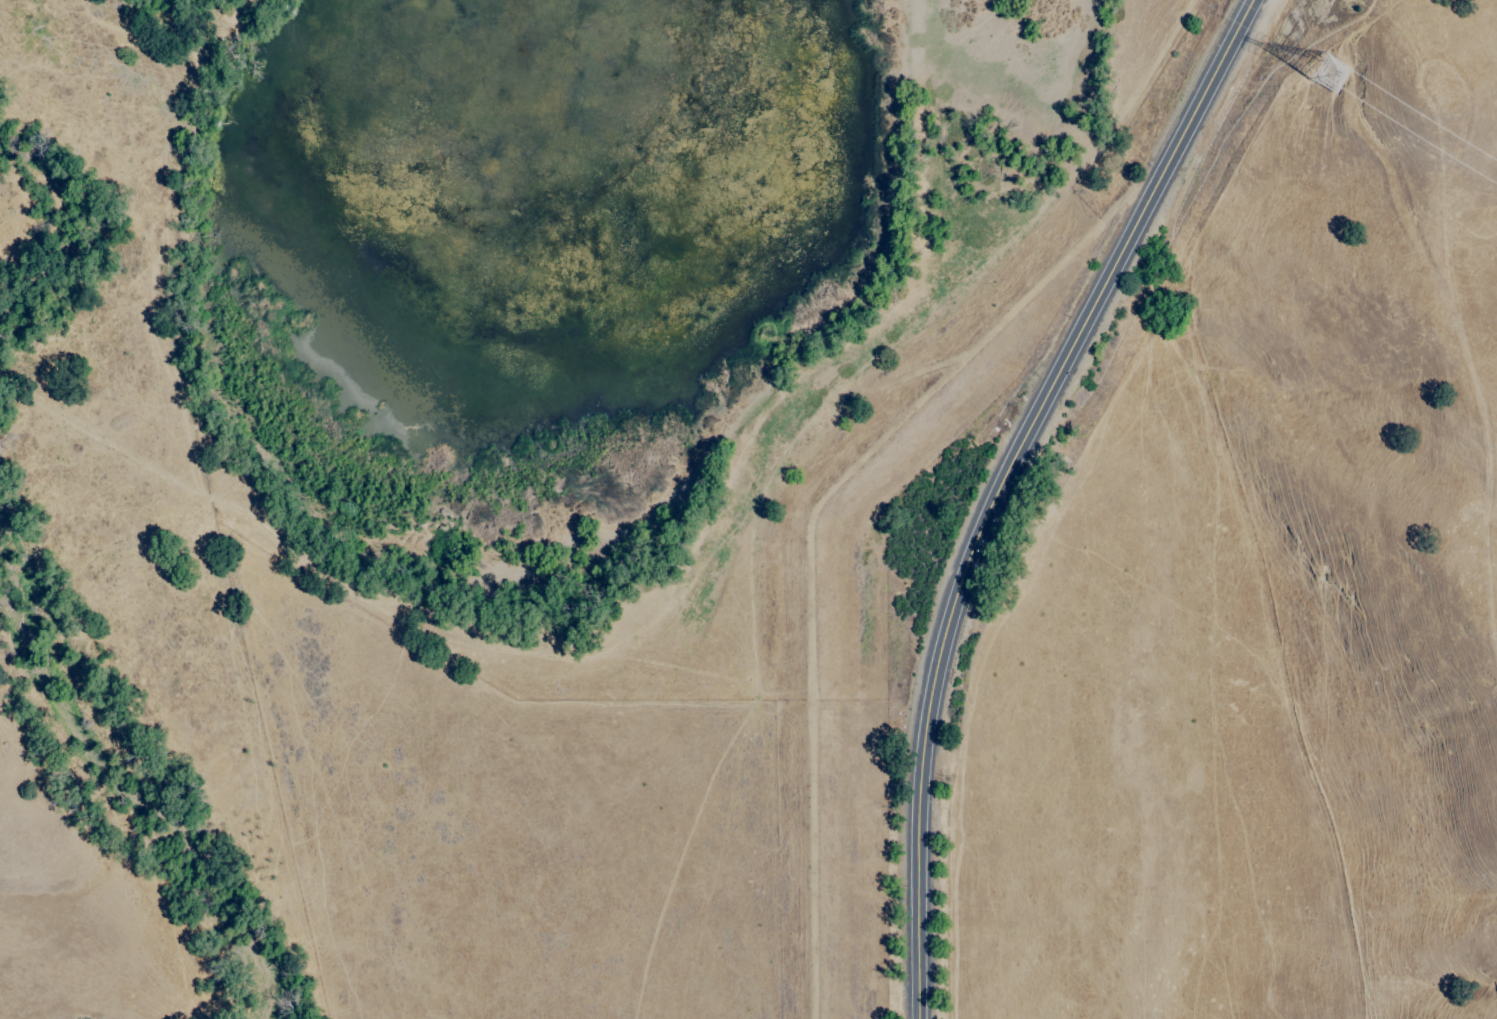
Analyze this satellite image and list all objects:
power tower: (1335, 79)
park: (1382, 473)
road: (1009, 486)

